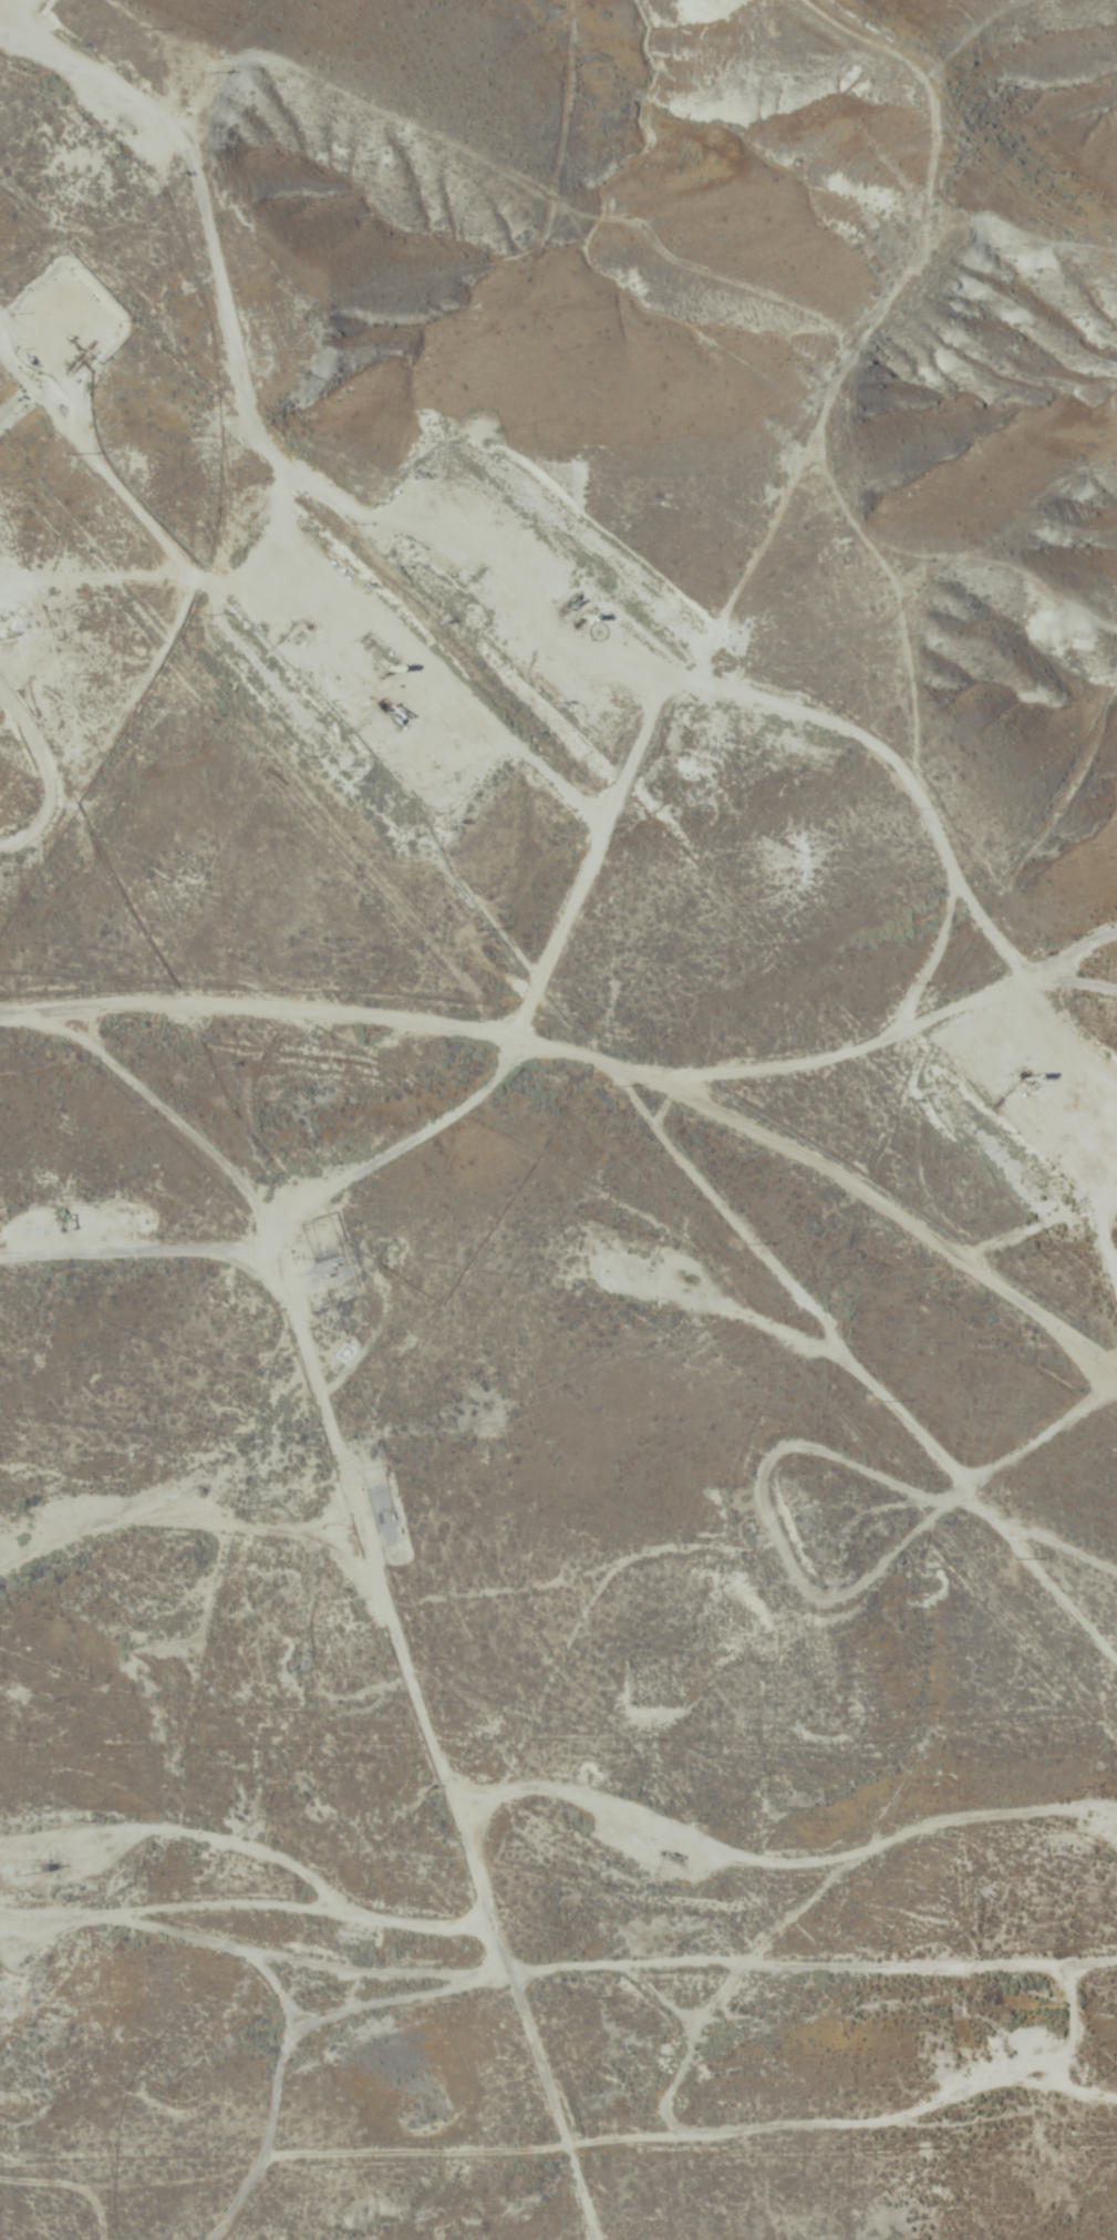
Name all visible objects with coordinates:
road: (898, 1029)
road: (598, 1060)
road: (291, 1235)
road: (393, 1582)

